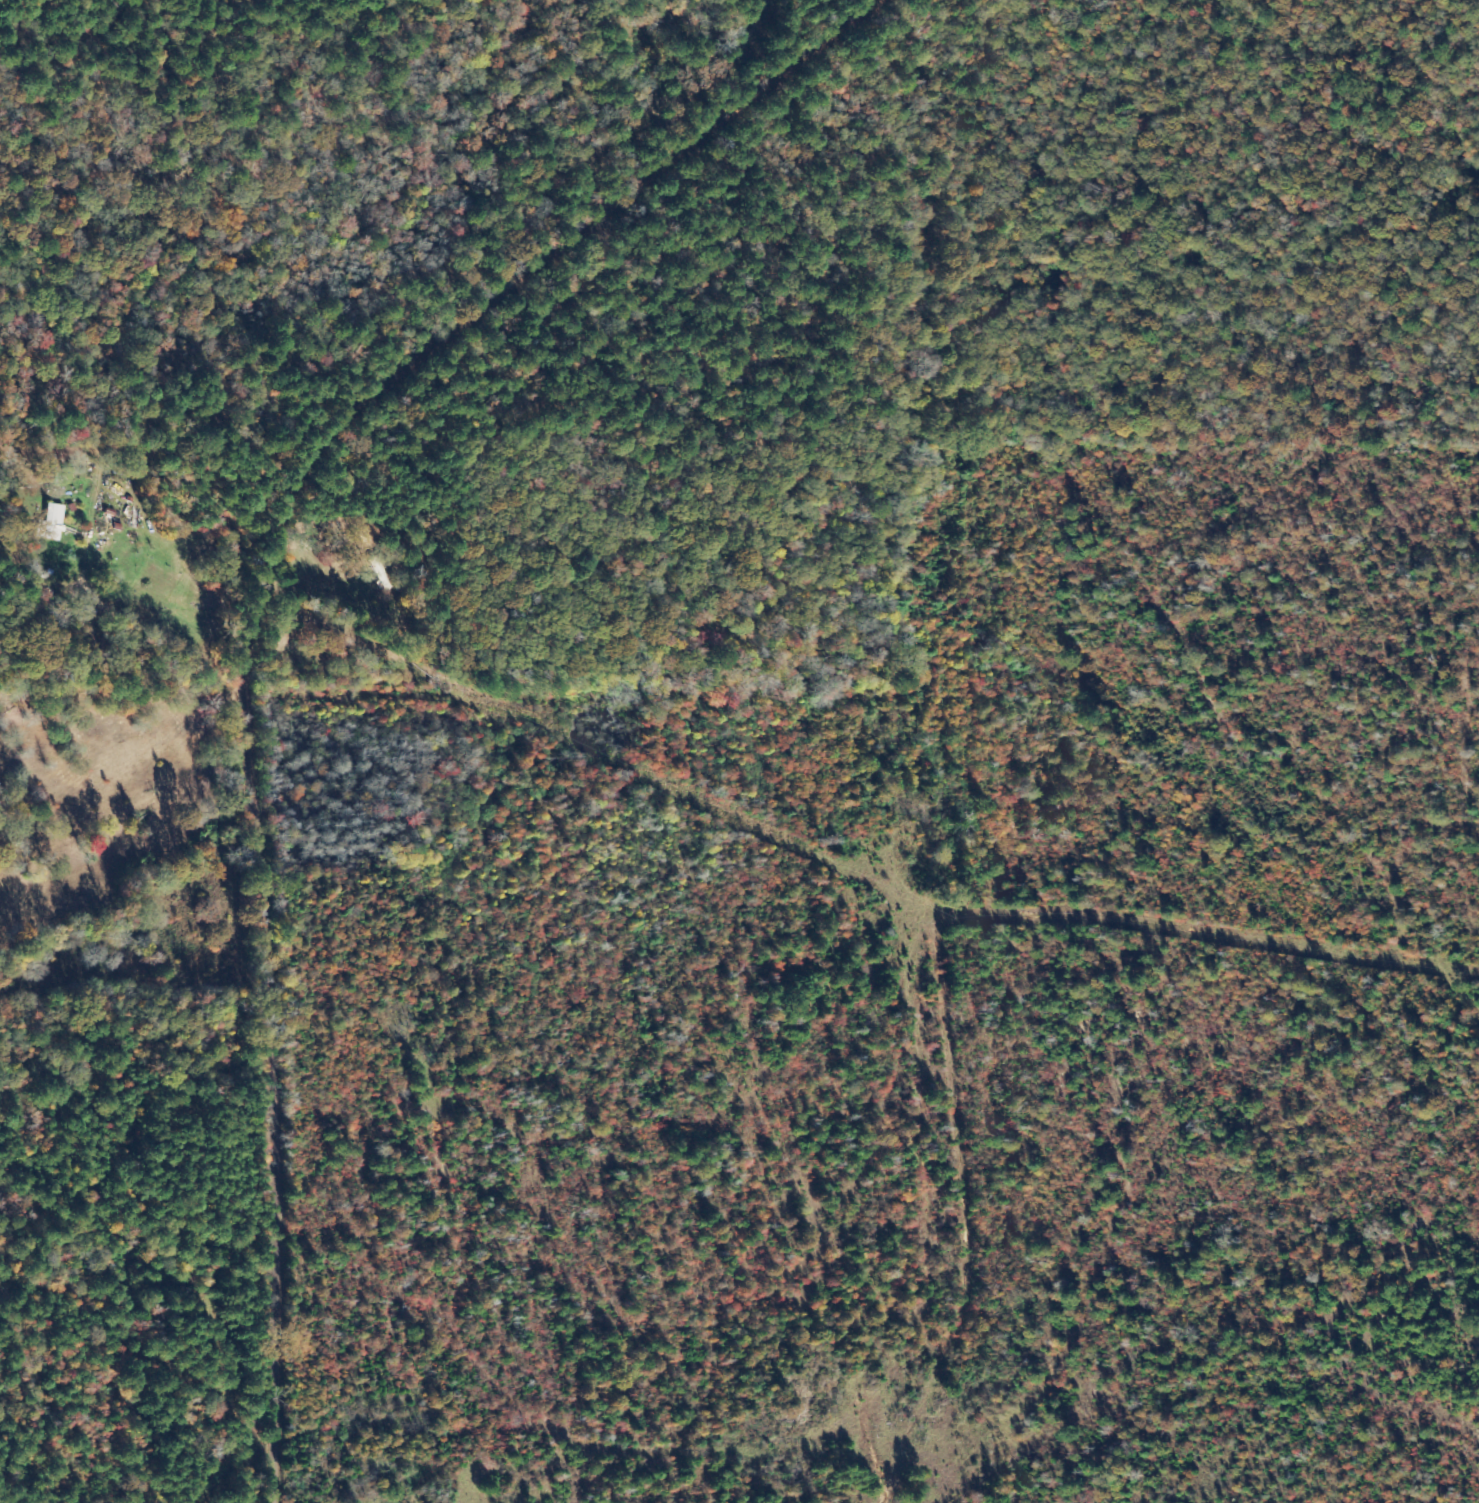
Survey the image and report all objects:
building: (52, 522)
building: (389, 569)
road: (259, 611)
road: (125, 677)

